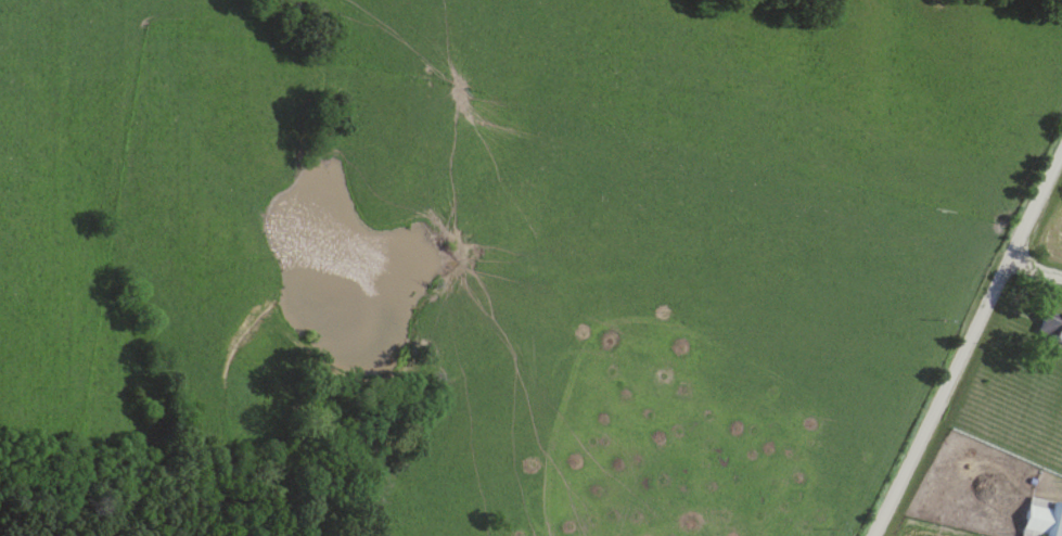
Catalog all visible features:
road: (1034, 270)
building: (1051, 327)
road: (968, 342)
building: (1041, 519)

